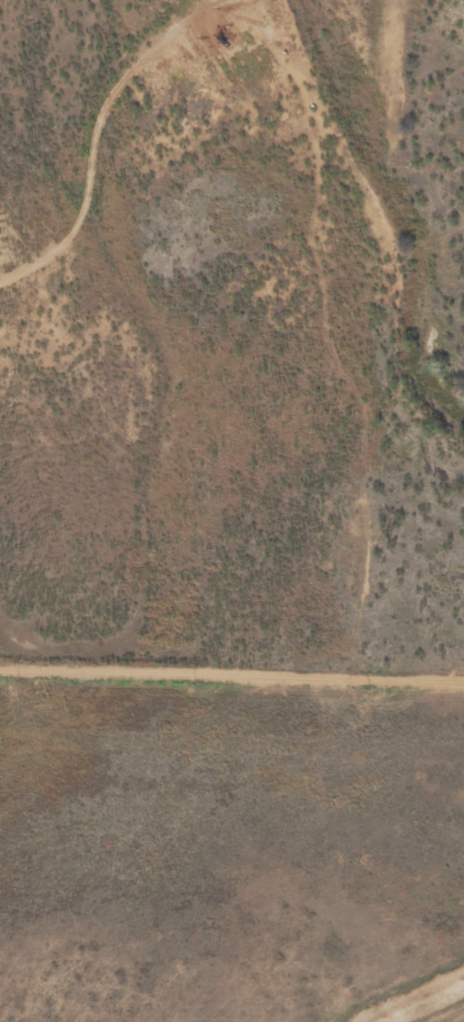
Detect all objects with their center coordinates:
road: (232, 673)
road: (414, 996)

